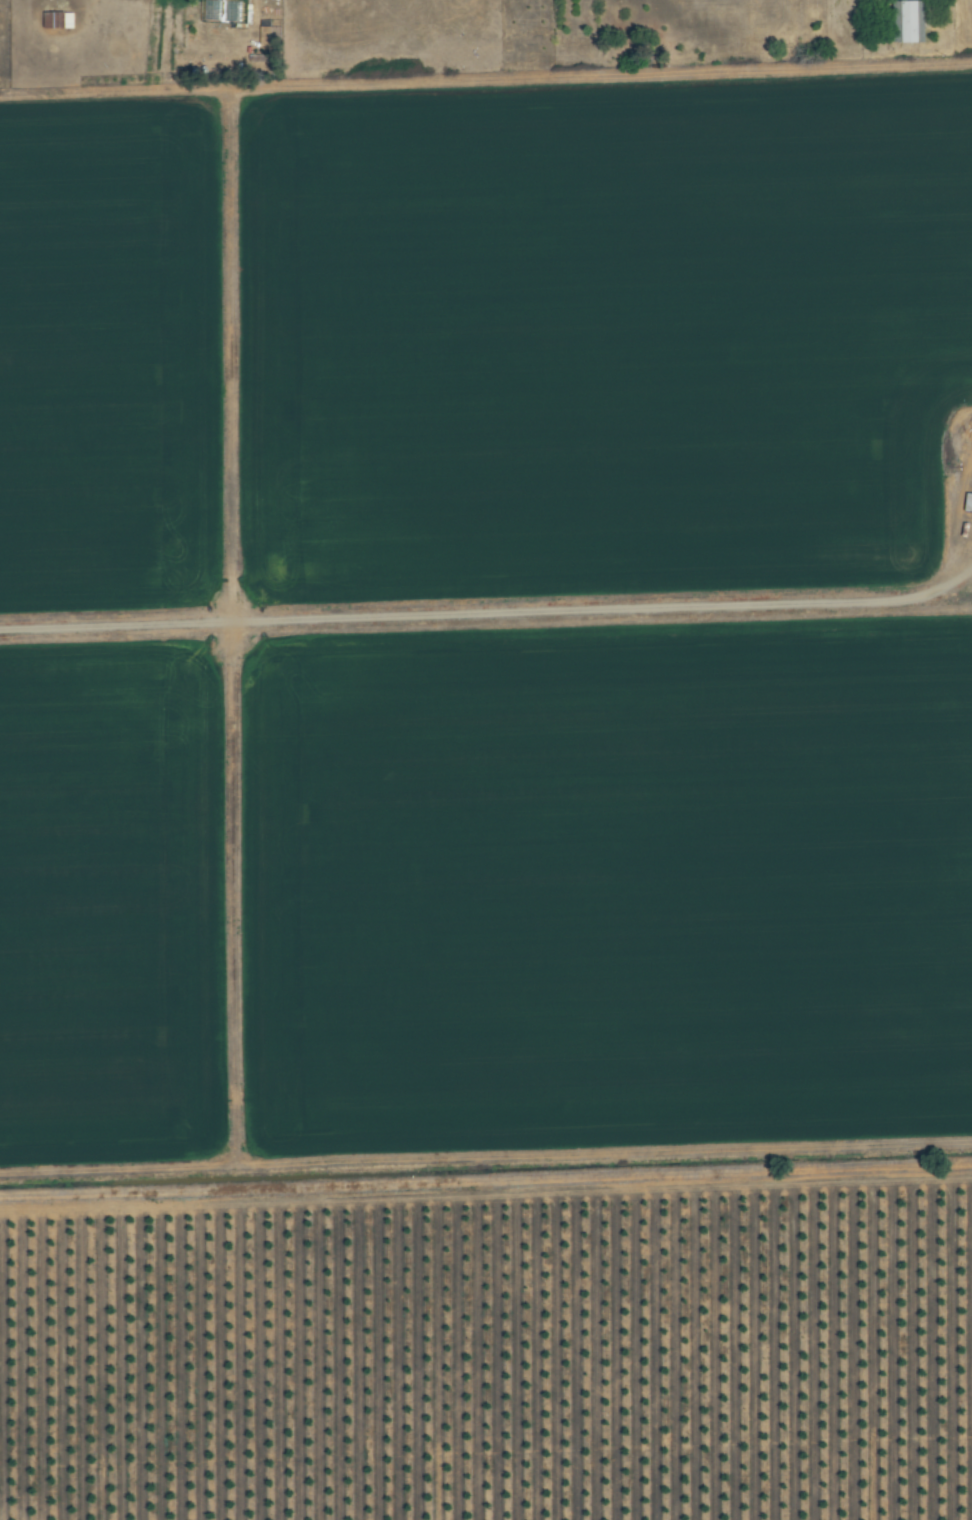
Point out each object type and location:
building: (249, 0)
building: (55, 21)
building: (910, 23)
building: (970, 503)

